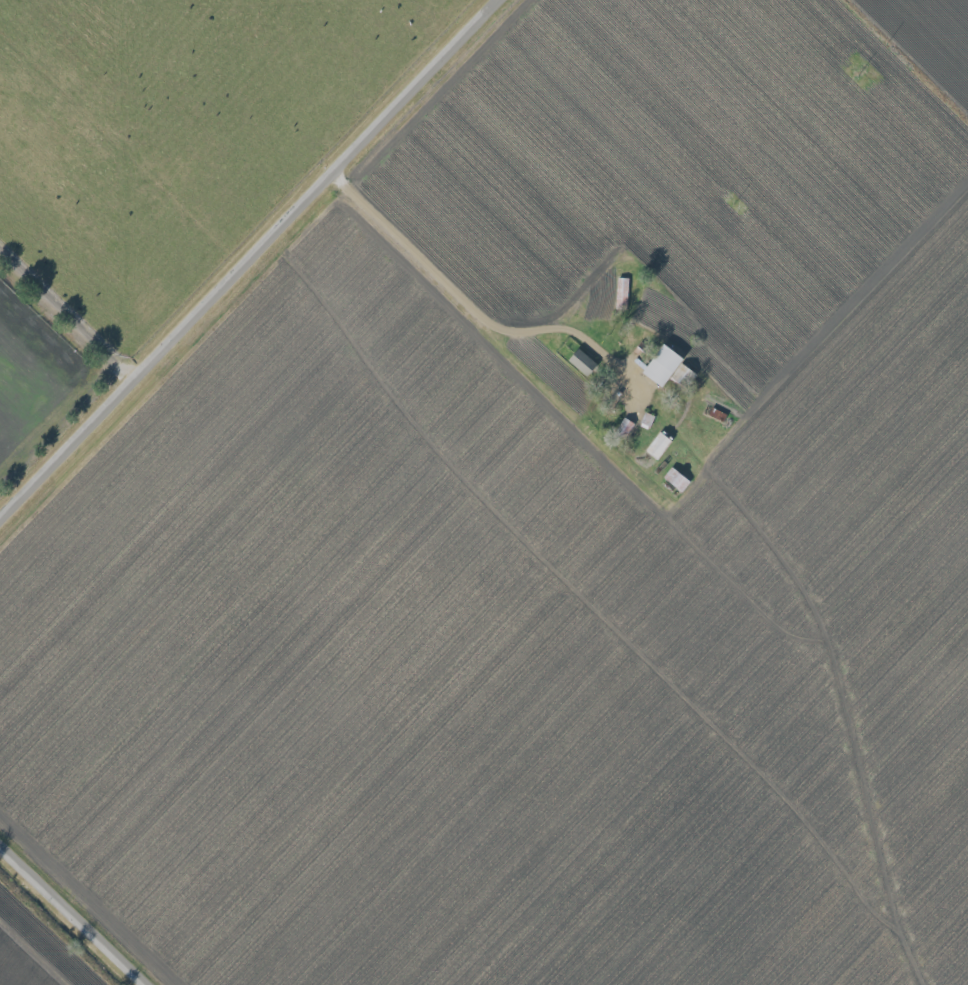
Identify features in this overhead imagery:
road: (903, 62)
road: (249, 259)
road: (474, 307)
road: (67, 313)
building: (581, 361)
building: (661, 364)
building: (679, 373)
building: (657, 445)
building: (675, 478)
road: (74, 914)

